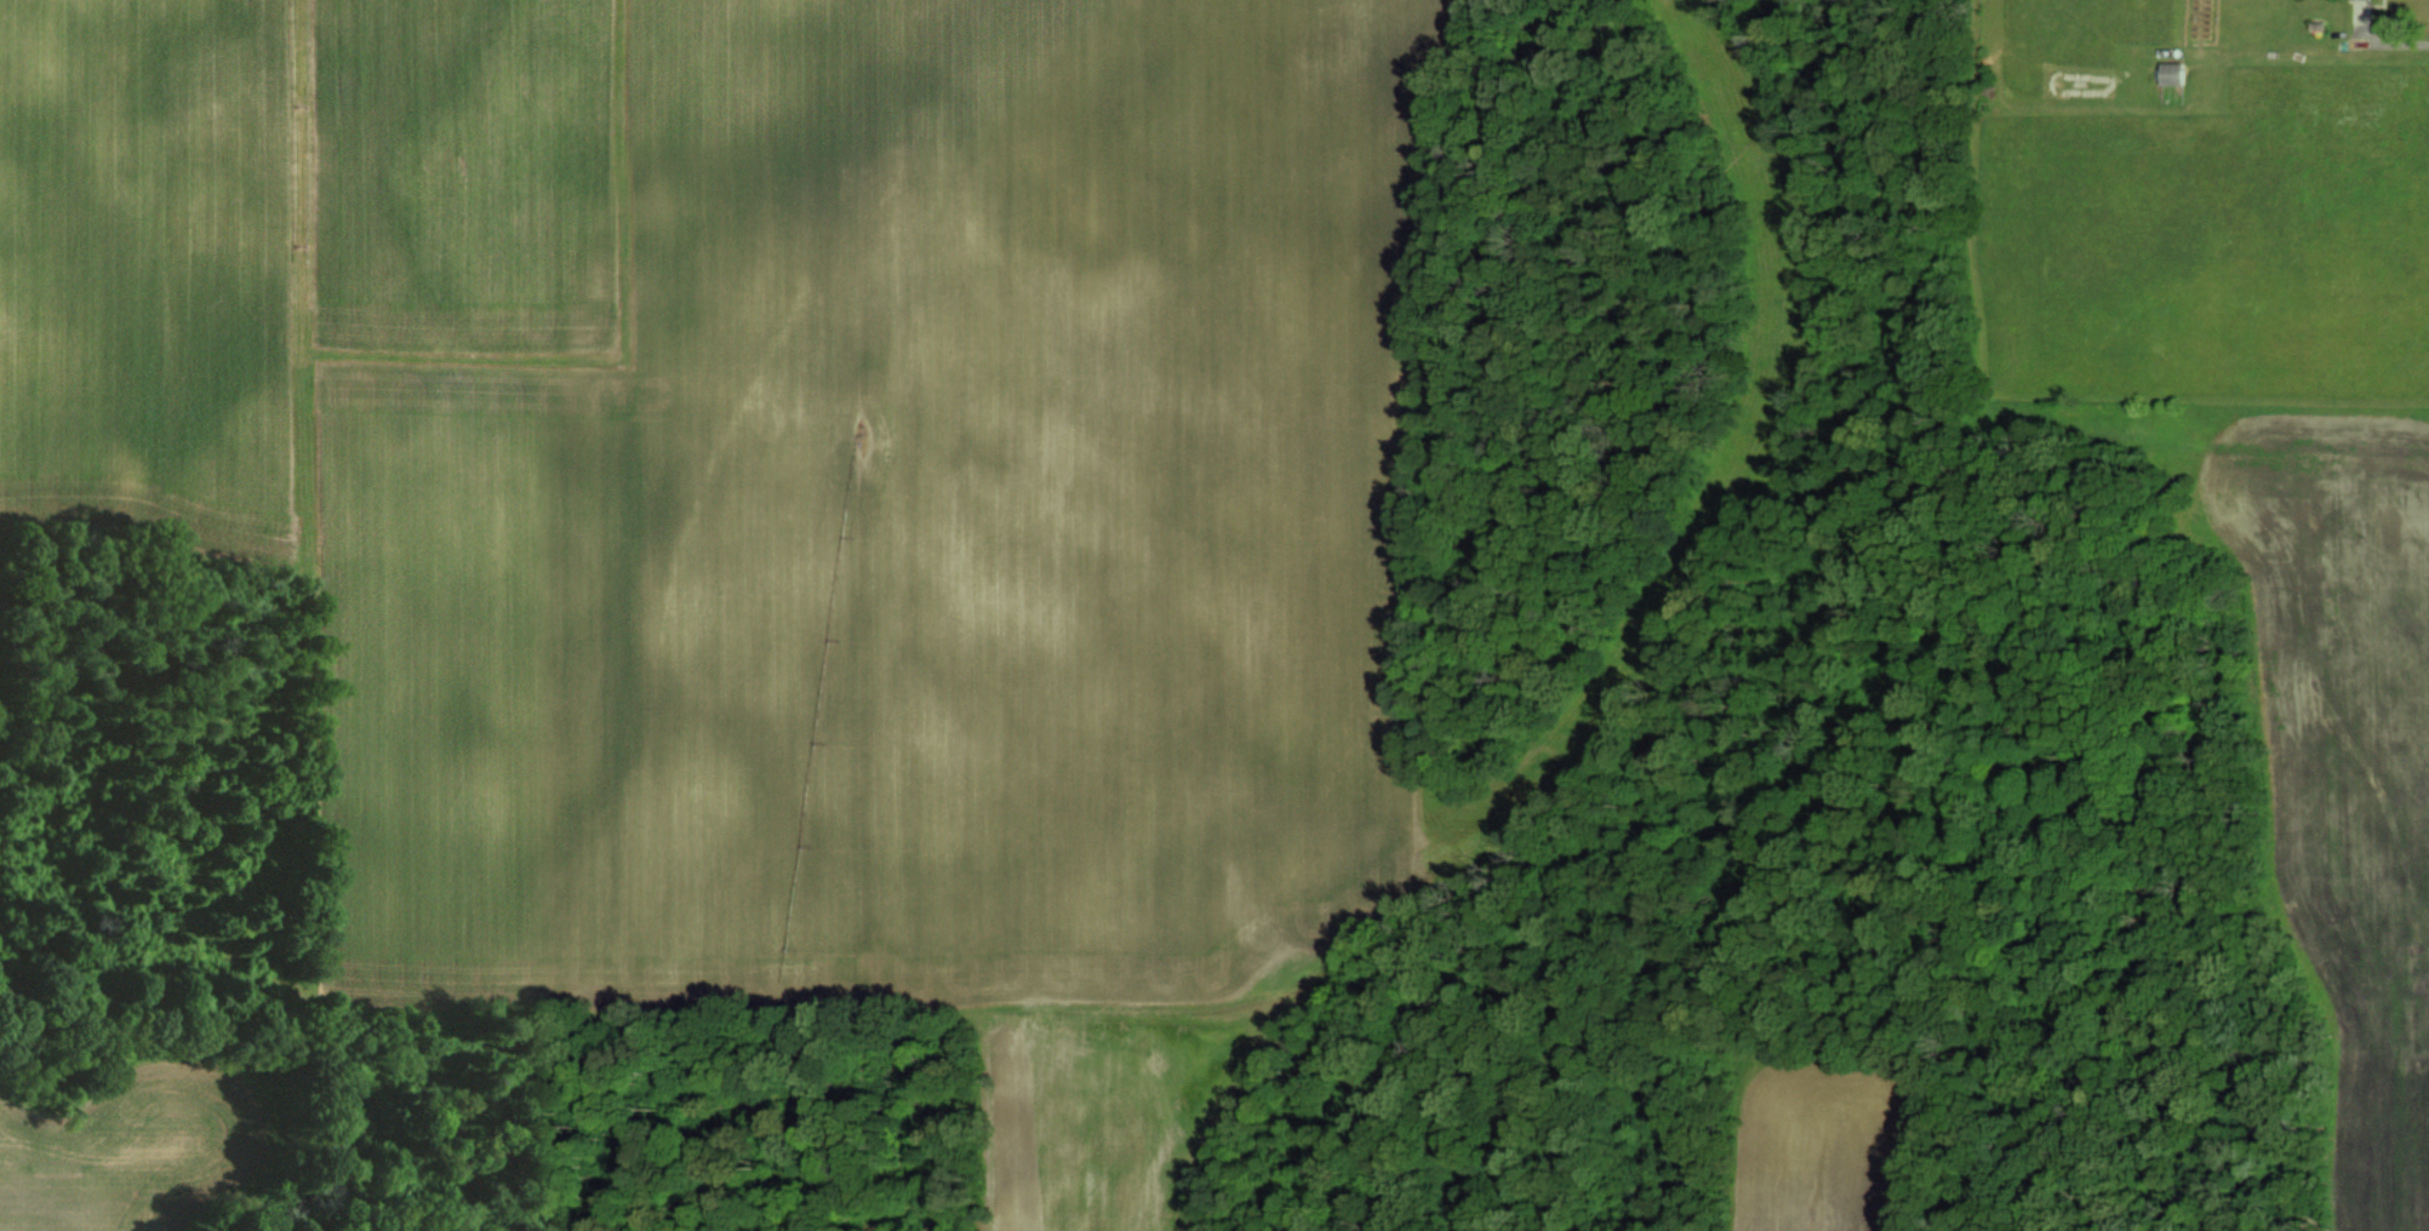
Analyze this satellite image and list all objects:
road: (2394, 39)
building: (2174, 73)

